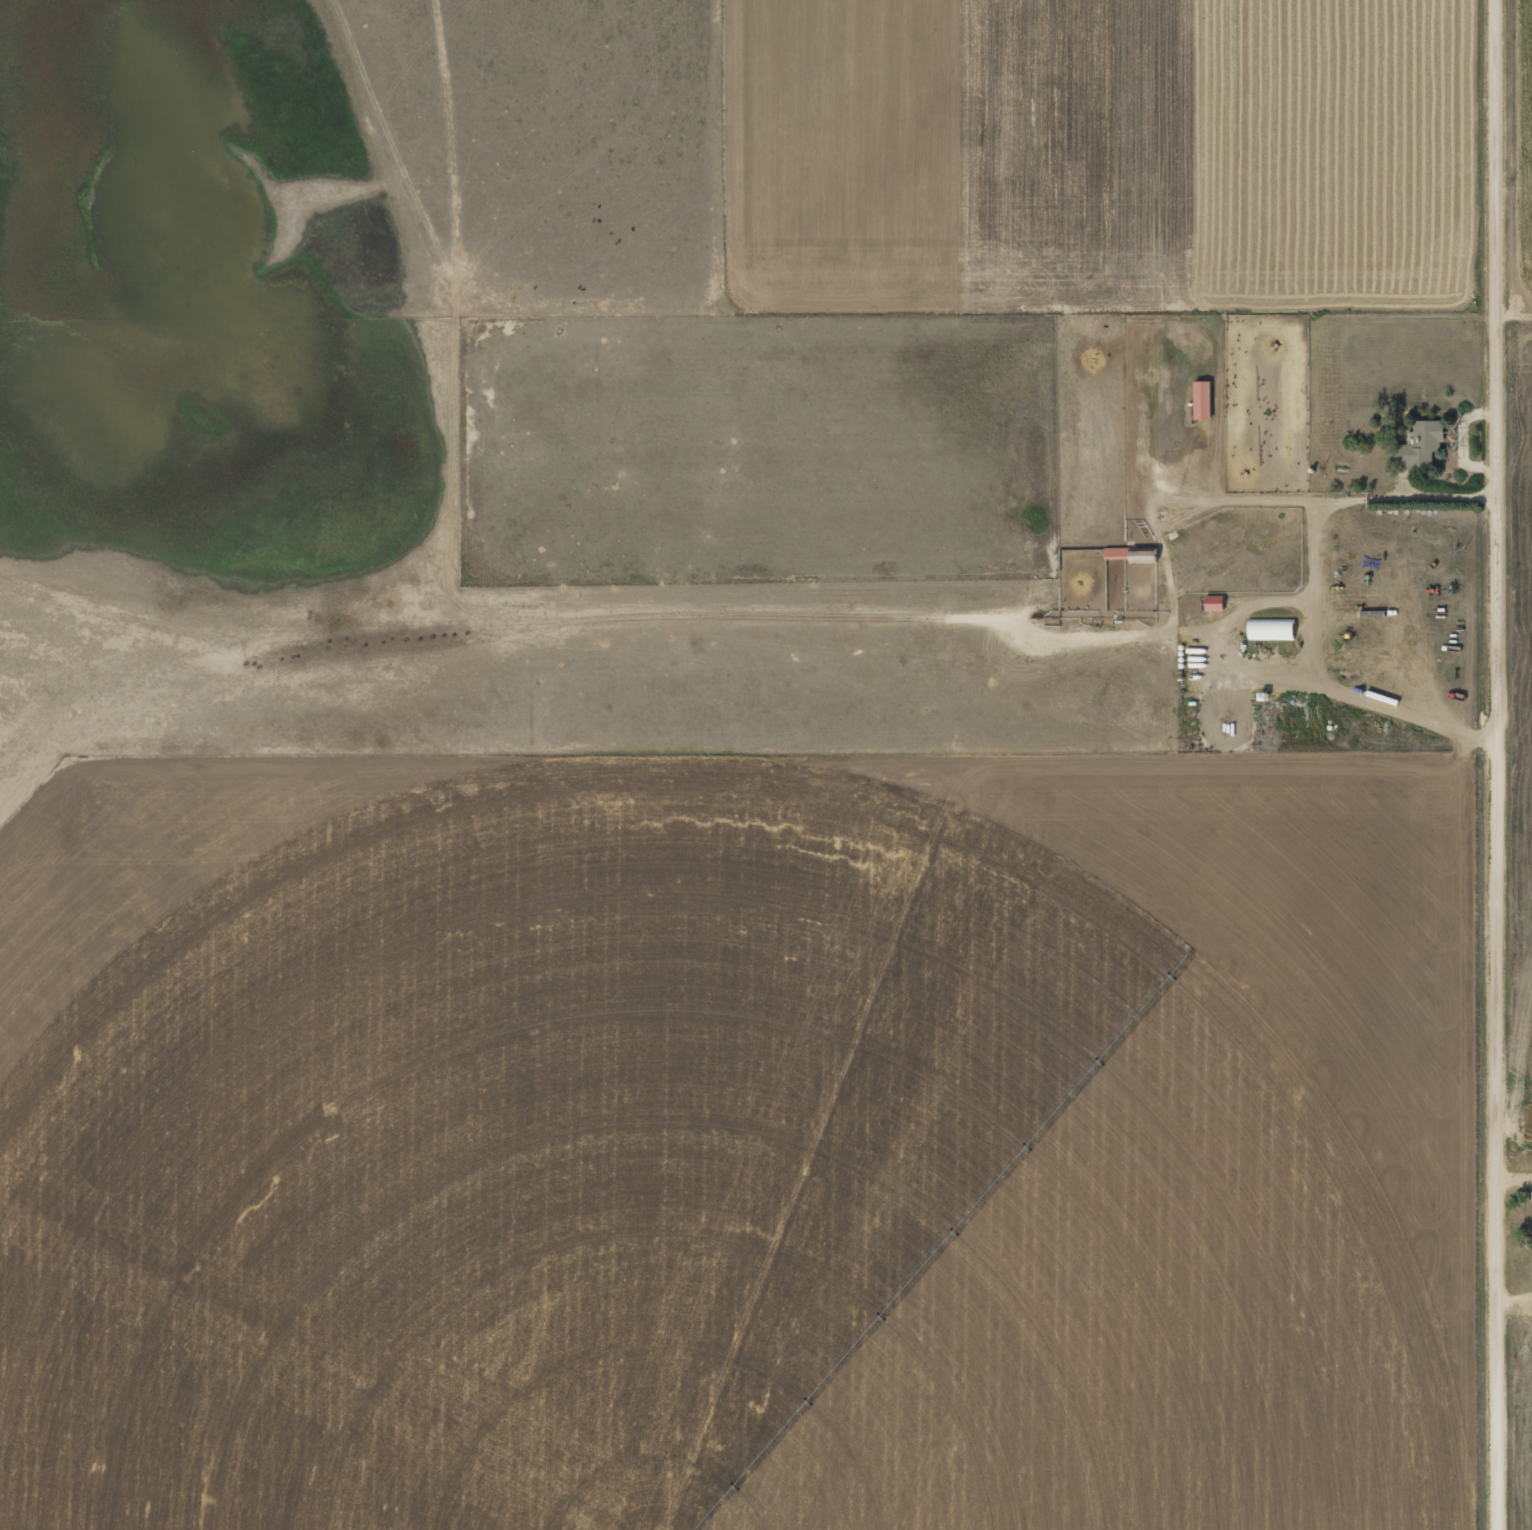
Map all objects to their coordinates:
building: (1204, 399)
building: (1420, 444)
road: (1516, 470)
building: (1215, 603)
building: (1272, 629)
road: (1500, 764)
building: (1531, 1223)

